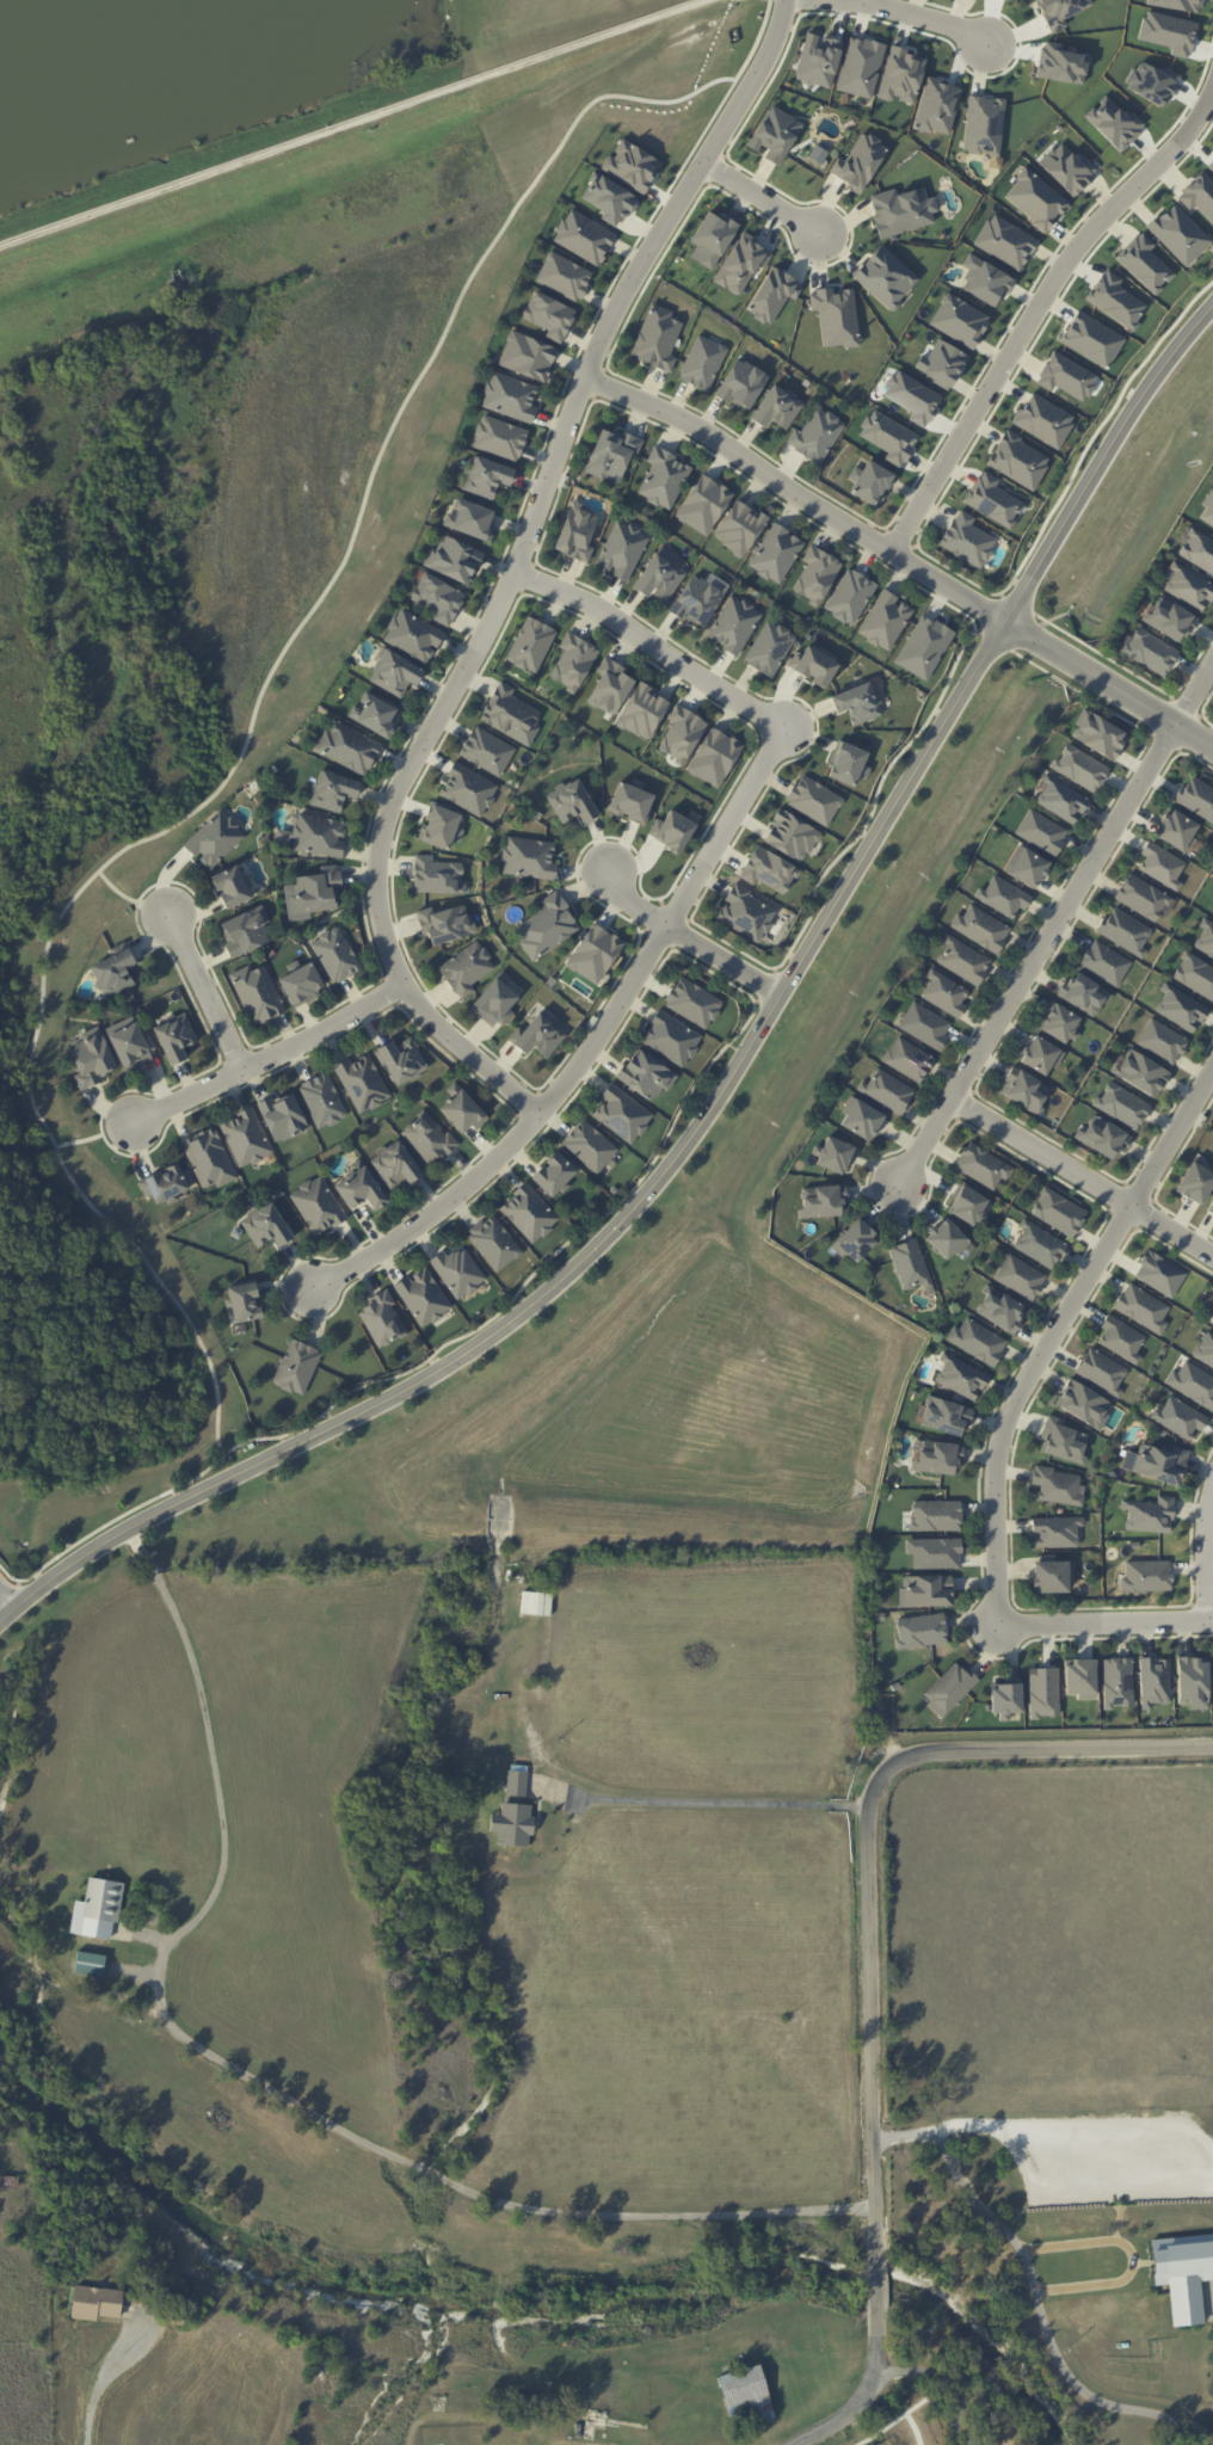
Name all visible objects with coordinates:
building: (1059, 11)
road: (920, 17)
building: (818, 60)
building: (860, 67)
building: (900, 75)
dam: (337, 99)
building: (937, 106)
road: (353, 123)
building: (984, 124)
building: (775, 134)
building: (858, 162)
building: (632, 167)
building: (1067, 168)
building: (1199, 195)
building: (605, 196)
road: (759, 197)
building: (1035, 198)
building: (901, 210)
building: (1178, 234)
building: (583, 236)
building: (712, 238)
building: (1004, 241)
building: (1144, 263)
building: (741, 264)
building: (564, 276)
building: (885, 277)
building: (984, 281)
building: (772, 295)
road: (1041, 295)
building: (548, 315)
building: (836, 316)
building: (959, 320)
building: (657, 338)
building: (527, 356)
building: (702, 362)
building: (941, 363)
building: (1066, 376)
building: (741, 384)
building: (509, 396)
building: (776, 407)
building: (1042, 420)
building: (815, 435)
building: (888, 436)
building: (499, 437)
building: (611, 454)
building: (1017, 460)
building: (486, 476)
building: (663, 478)
building: (869, 482)
building: (992, 500)
building: (703, 504)
building: (1207, 509)
building: (469, 519)
building: (739, 528)
building: (577, 531)
building: (966, 538)
building: (622, 549)
building: (1197, 550)
building: (775, 553)
road: (900, 558)
building: (452, 559)
road: (512, 569)
building: (815, 574)
building: (659, 577)
building: (1187, 586)
building: (849, 596)
building: (437, 598)
building: (696, 601)
building: (1169, 618)
building: (885, 620)
building: (733, 624)
building: (413, 635)
building: (530, 645)
road: (647, 645)
building: (924, 647)
building: (769, 648)
building: (1150, 651)
building: (573, 661)
building: (813, 665)
building: (394, 673)
building: (609, 686)
building: (857, 702)
building: (642, 712)
building: (374, 714)
building: (510, 714)
building: (682, 733)
building: (1098, 734)
building: (347, 747)
building: (486, 751)
building: (714, 757)
building: (845, 763)
building: (1079, 768)
building: (468, 789)
building: (332, 790)
building: (1196, 797)
building: (813, 799)
building: (1060, 800)
building: (571, 802)
building: (630, 802)
building: (441, 827)
building: (1175, 830)
building: (1041, 832)
building: (319, 834)
building: (790, 836)
building: (282, 837)
building: (214, 839)
building: (528, 857)
building: (1160, 864)
building: (1027, 867)
building: (768, 870)
building: (436, 875)
building: (232, 886)
building: (312, 893)
building: (1002, 897)
building: (1143, 898)
building: (746, 913)
road: (1058, 914)
building: (445, 923)
building: (547, 926)
building: (980, 928)
building: (245, 930)
building: (1125, 930)
road: (684, 938)
building: (1205, 938)
building: (595, 953)
building: (334, 954)
building: (962, 960)
building: (1104, 962)
building: (466, 968)
building: (113, 973)
building: (1195, 974)
building: (301, 983)
road: (204, 989)
building: (257, 993)
building: (944, 993)
building: (1083, 993)
building: (495, 1000)
building: (692, 1002)
building: (1180, 1008)
building: (1058, 1022)
building: (924, 1024)
building: (537, 1035)
building: (174, 1037)
building: (670, 1037)
building: (1160, 1040)
road: (591, 1042)
building: (128, 1043)
building: (1040, 1054)
road: (264, 1055)
building: (92, 1058)
building: (907, 1059)
building: (402, 1060)
building: (1140, 1072)
building: (645, 1074)
road: (727, 1082)
building: (362, 1083)
building: (886, 1090)
building: (1024, 1090)
building: (321, 1101)
building: (1121, 1104)
building: (461, 1109)
building: (622, 1113)
building: (282, 1116)
building: (862, 1120)
building: (1102, 1137)
building: (245, 1138)
building: (426, 1138)
building: (589, 1146)
building: (836, 1154)
building: (208, 1158)
building: (394, 1164)
building: (983, 1165)
building: (553, 1175)
road: (1082, 1175)
building: (1195, 1182)
building: (164, 1183)
building: (359, 1187)
building: (821, 1201)
building: (316, 1205)
building: (967, 1205)
building: (1211, 1209)
building: (1058, 1212)
building: (528, 1213)
building: (265, 1226)
building: (947, 1238)
building: (855, 1240)
building: (493, 1242)
building: (1037, 1244)
building: (910, 1264)
building: (457, 1271)
building: (1159, 1274)
building: (1020, 1276)
building: (421, 1297)
building: (242, 1301)
building: (1141, 1307)
building: (999, 1308)
building: (381, 1319)
building: (1211, 1319)
road: (1052, 1330)
building: (1121, 1337)
building: (977, 1341)
building: (1205, 1349)
building: (296, 1367)
building: (1101, 1371)
building: (960, 1377)
building: (1193, 1384)
building: (1083, 1404)
building: (944, 1416)
building: (1178, 1417)
building: (1061, 1441)
building: (936, 1456)
building: (1156, 1462)
building: (1057, 1485)
building: (1149, 1514)
building: (935, 1515)
building: (1055, 1531)
building: (935, 1552)
road: (1206, 1552)
building: (1051, 1573)
building: (1145, 1576)
building: (925, 1590)
building: (536, 1603)
road: (5, 1606)
road: (1103, 1620)
building: (920, 1630)
building: (1079, 1677)
building: (1153, 1681)
building: (1116, 1682)
building: (1192, 1682)
building: (948, 1688)
building: (1042, 1690)
building: (1005, 1696)
building: (516, 1782)
road: (714, 1802)
building: (512, 1823)
building: (97, 1909)
road: (870, 1959)
building: (90, 1964)
road: (260, 2082)
road: (1125, 2254)
building: (1183, 2273)
road: (1034, 2284)
building: (96, 2302)
road: (106, 2376)
road: (943, 2381)

